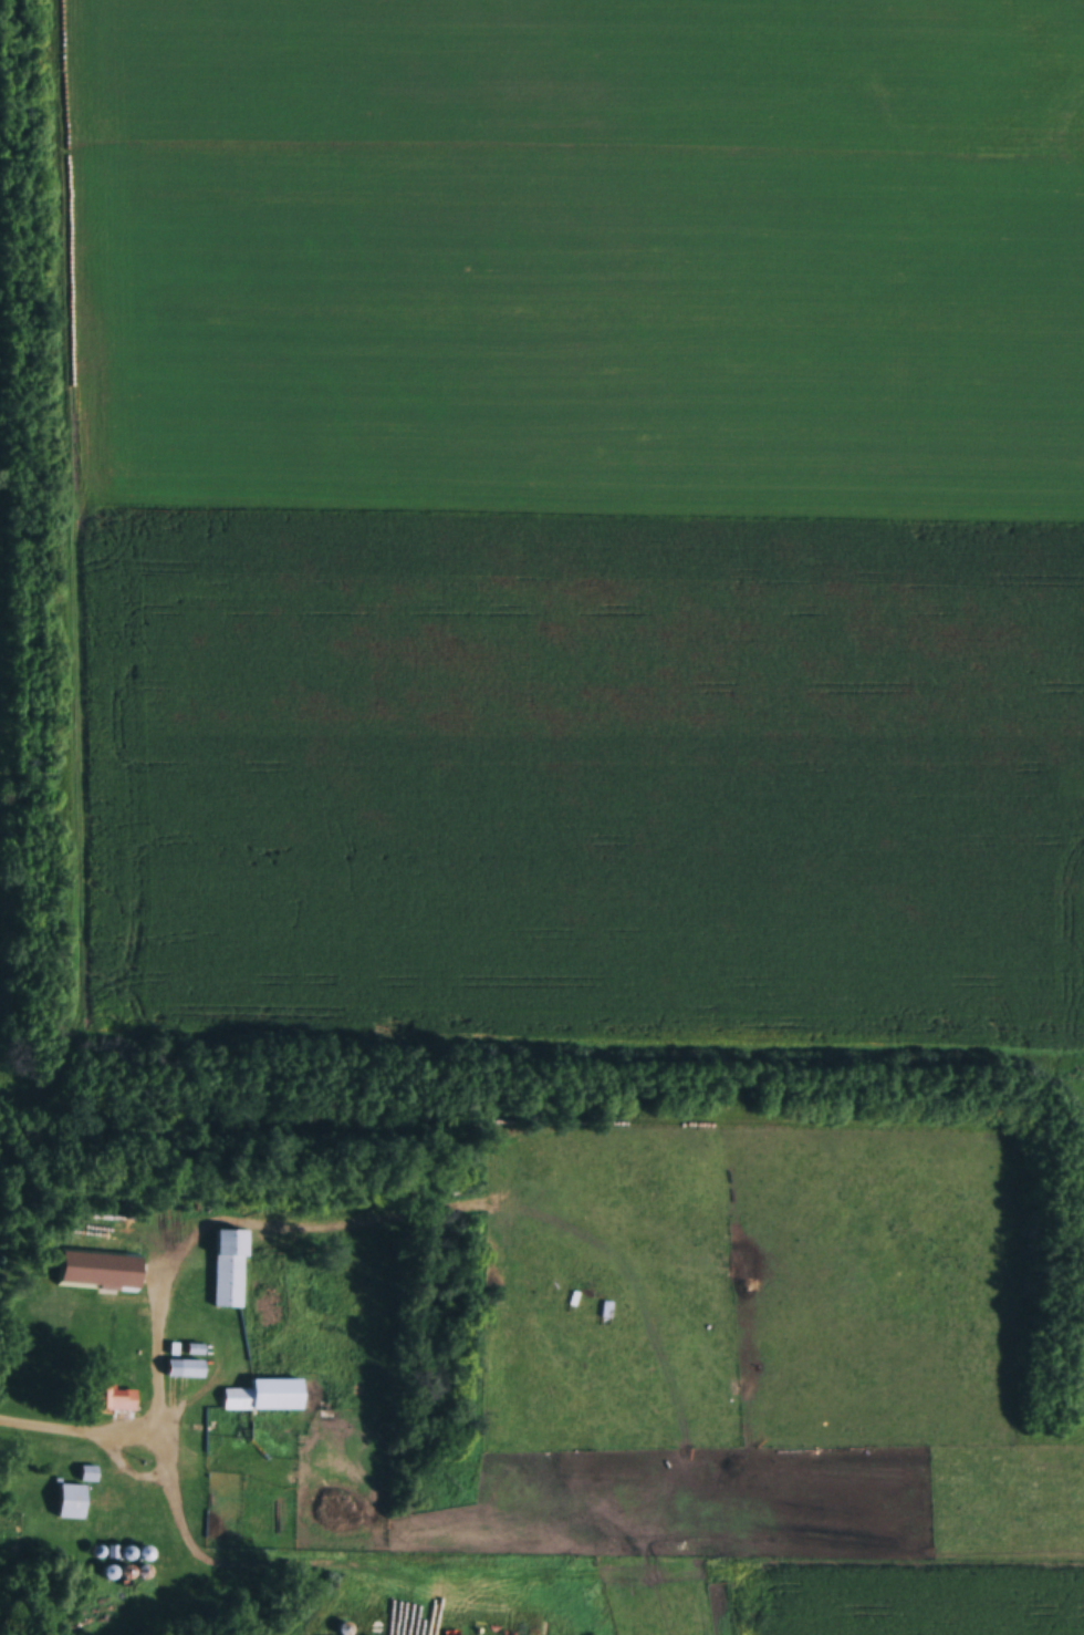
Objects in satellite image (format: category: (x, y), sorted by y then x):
building: (230, 1269)
building: (100, 1271)
building: (627, 1315)
building: (187, 1369)
building: (267, 1396)
building: (116, 1399)
road: (46, 1424)
road: (147, 1428)
building: (227, 1492)
building: (73, 1501)
building: (346, 1628)

